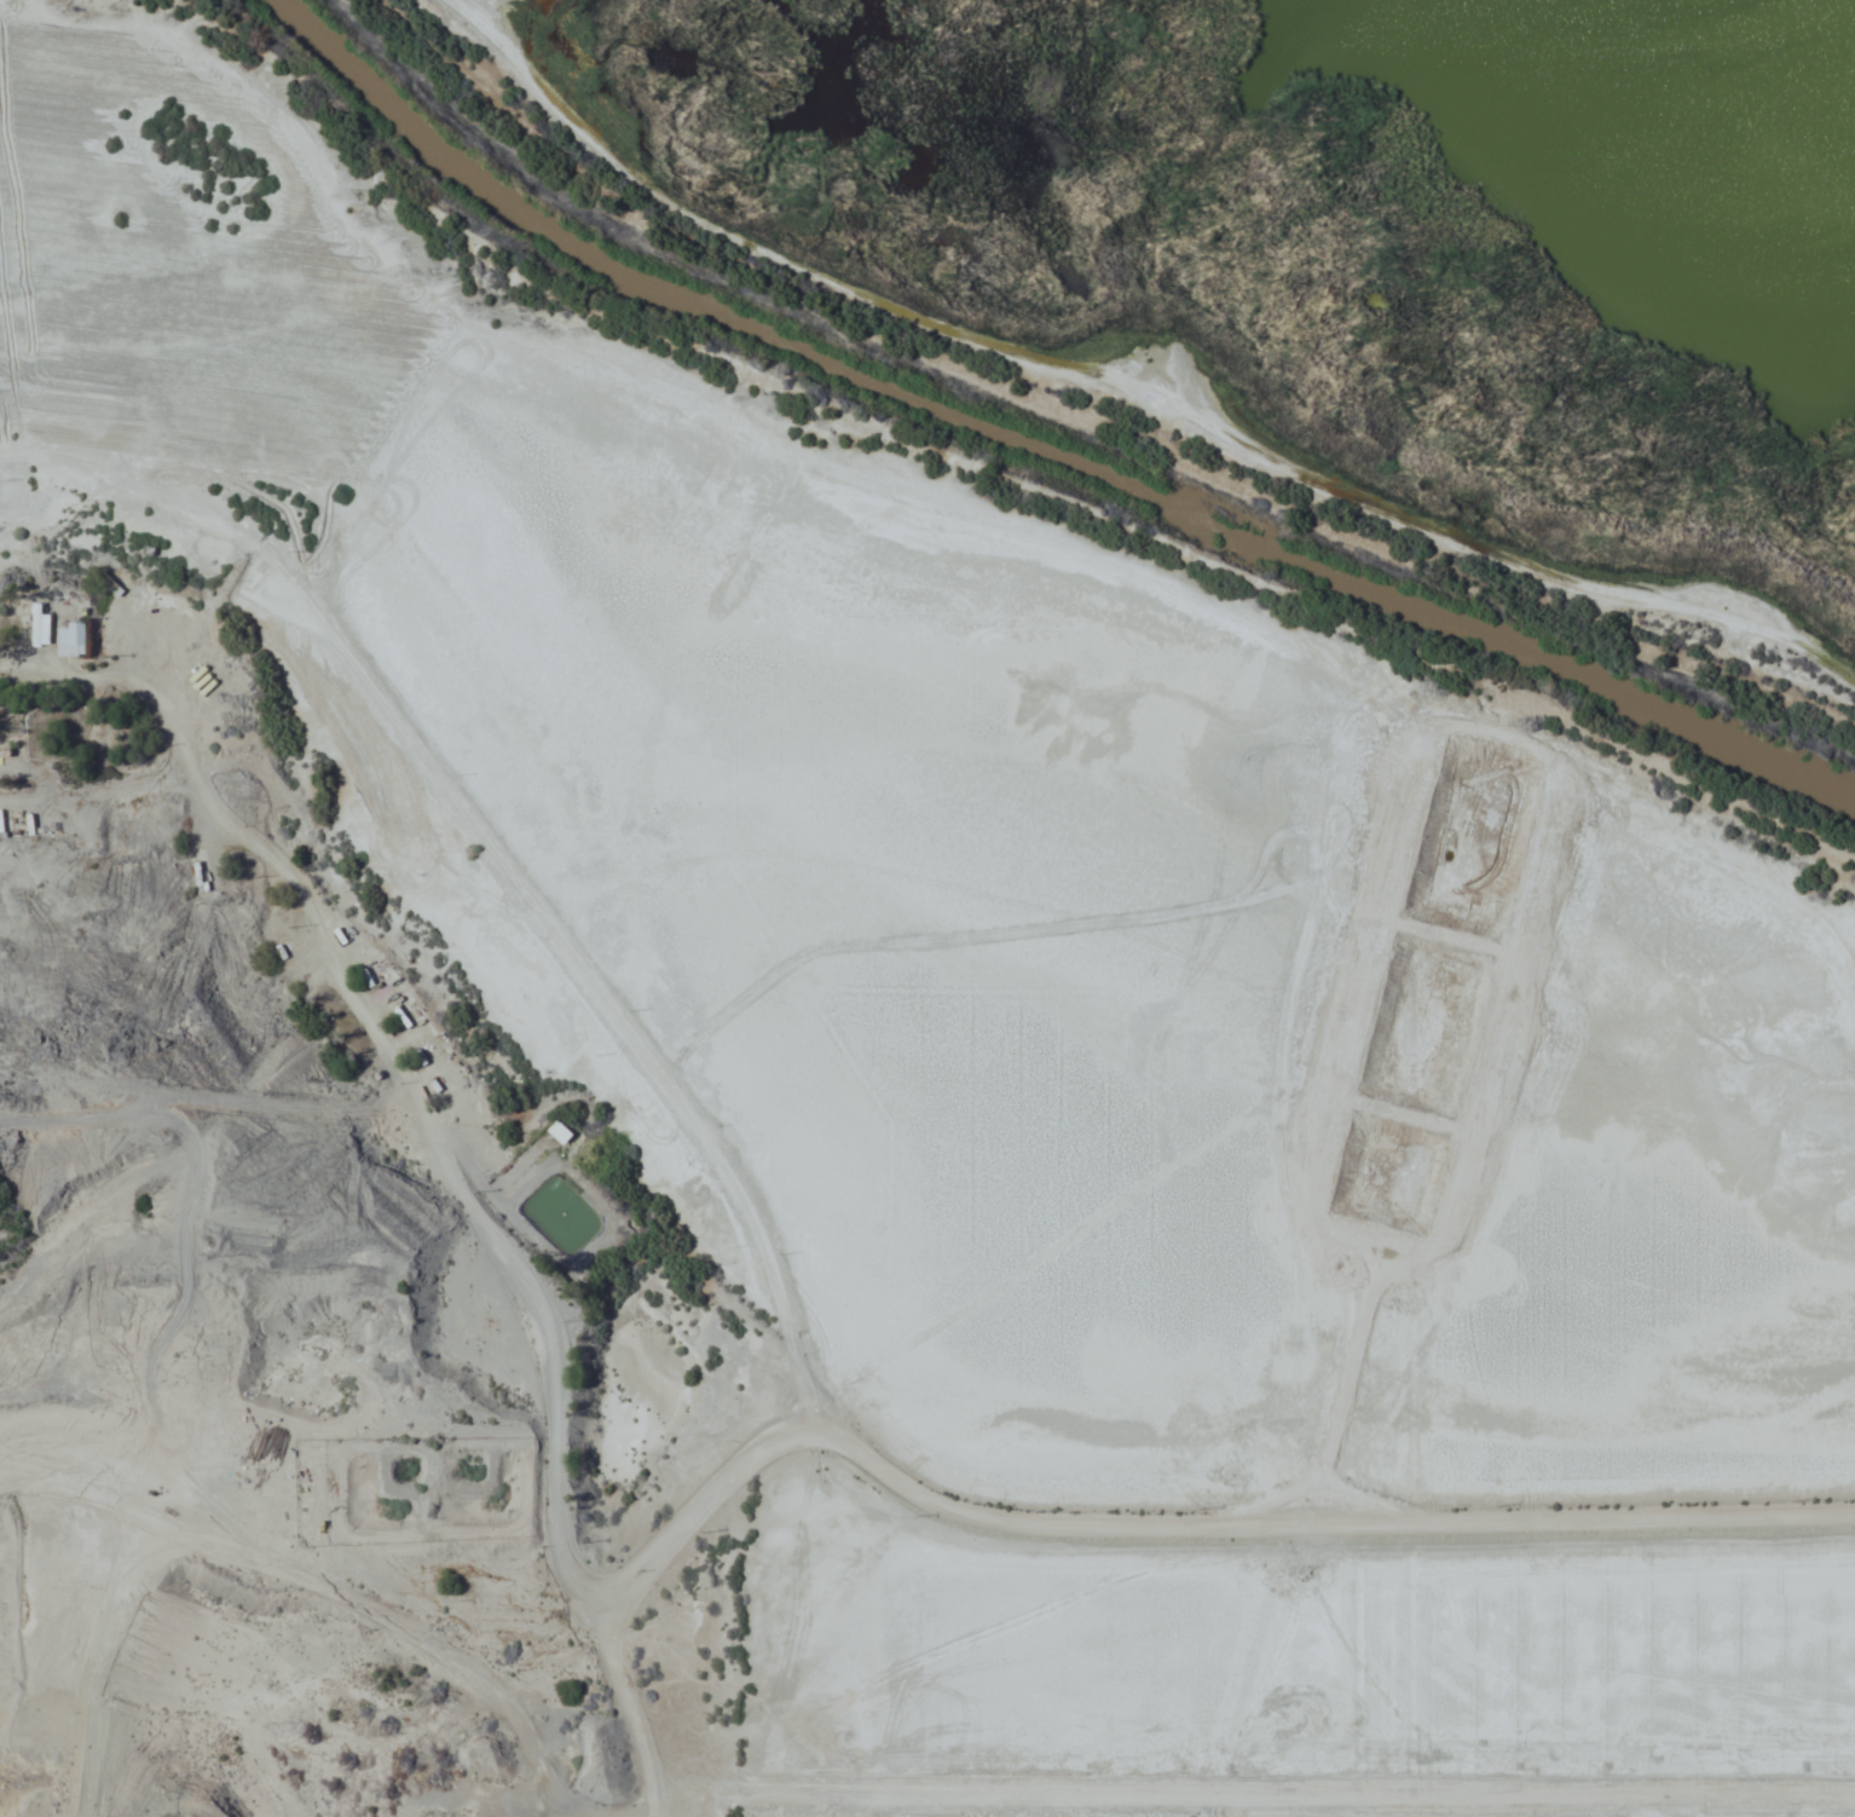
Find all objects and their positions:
road: (1138, 421)
river: (1038, 449)
building: (42, 631)
road: (704, 1510)
road: (623, 1707)

